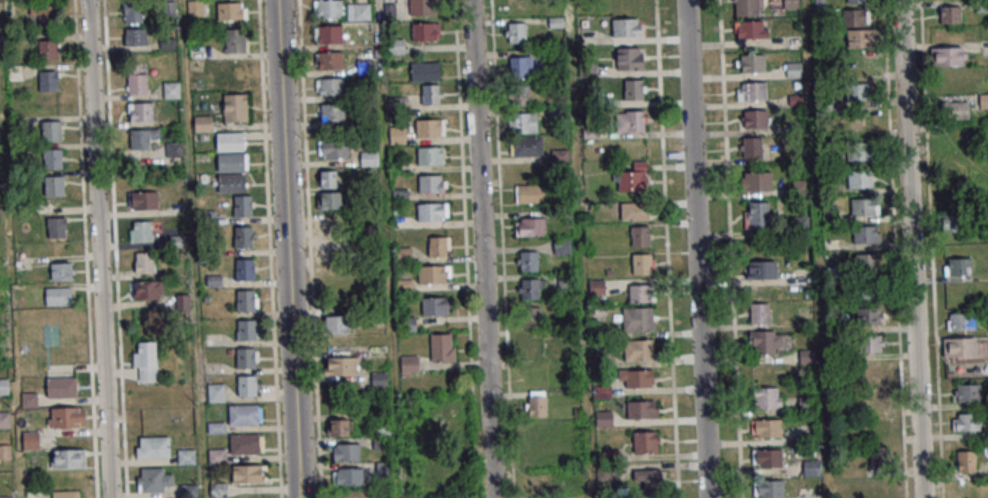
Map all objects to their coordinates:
building: (855, 1)
building: (790, 3)
building: (515, 6)
building: (422, 7)
building: (746, 7)
building: (196, 8)
building: (328, 8)
building: (230, 11)
building: (358, 11)
building: (132, 12)
building: (45, 13)
building: (950, 14)
building: (856, 16)
building: (628, 27)
building: (750, 29)
building: (425, 31)
building: (515, 33)
building: (327, 34)
building: (135, 36)
building: (860, 39)
building: (235, 40)
building: (399, 44)
building: (48, 48)
building: (947, 56)
building: (630, 58)
building: (328, 60)
building: (750, 63)
building: (520, 66)
building: (793, 69)
building: (424, 71)
building: (234, 72)
building: (137, 79)
building: (48, 80)
building: (329, 86)
building: (171, 89)
building: (632, 89)
building: (751, 90)
building: (858, 91)
building: (431, 94)
building: (518, 94)
building: (235, 107)
building: (953, 107)
building: (140, 111)
building: (330, 112)
building: (754, 118)
building: (630, 120)
building: (857, 121)
building: (524, 122)
building: (202, 123)
building: (429, 127)
building: (51, 130)
building: (396, 134)
building: (142, 138)
building: (526, 146)
building: (753, 147)
building: (332, 148)
building: (859, 151)
building: (231, 152)
building: (430, 155)
building: (369, 158)
building: (53, 159)
building: (327, 178)
building: (632, 178)
building: (860, 178)
building: (756, 181)
building: (231, 183)
building: (432, 183)
building: (53, 186)
building: (530, 194)
building: (144, 199)
building: (329, 200)
building: (864, 206)
building: (242, 207)
building: (432, 211)
building: (635, 211)
building: (757, 214)
building: (947, 222)
building: (530, 226)
building: (56, 227)
building: (142, 230)
building: (866, 234)
building: (640, 236)
building: (242, 237)
building: (177, 240)
building: (333, 241)
building: (439, 246)
building: (561, 246)
road: (98, 249)
road: (287, 249)
road: (481, 249)
road: (696, 249)
road: (911, 249)
building: (528, 261)
building: (866, 261)
building: (144, 262)
building: (642, 263)
building: (957, 266)
building: (761, 269)
building: (243, 270)
building: (61, 271)
building: (433, 274)
building: (531, 287)
building: (146, 289)
building: (868, 291)
building: (640, 292)
building: (59, 296)
building: (245, 302)
building: (435, 306)
building: (759, 313)
building: (870, 316)
building: (531, 317)
building: (637, 319)
building: (960, 321)
building: (336, 324)
building: (246, 331)
building: (50, 334)
building: (766, 341)
building: (872, 343)
building: (442, 347)
building: (532, 347)
building: (960, 347)
building: (638, 349)
building: (245, 359)
building: (145, 361)
building: (341, 365)
building: (409, 365)
building: (871, 370)
building: (635, 378)
building: (3, 386)
building: (246, 386)
building: (61, 389)
building: (215, 392)
building: (969, 392)
building: (768, 397)
building: (874, 398)
building: (536, 403)
building: (642, 409)
building: (243, 416)
building: (604, 418)
building: (4, 419)
building: (67, 419)
building: (968, 421)
building: (877, 426)
building: (341, 427)
building: (766, 427)
building: (30, 440)
building: (645, 441)
building: (245, 445)
building: (154, 448)
building: (5, 451)
building: (346, 451)
building: (216, 455)
building: (186, 456)
building: (768, 457)
building: (878, 457)
building: (70, 460)
building: (965, 460)
building: (811, 466)
building: (247, 476)
building: (347, 476)
building: (154, 479)
building: (648, 480)
building: (768, 488)
building: (218, 489)
building: (65, 495)

